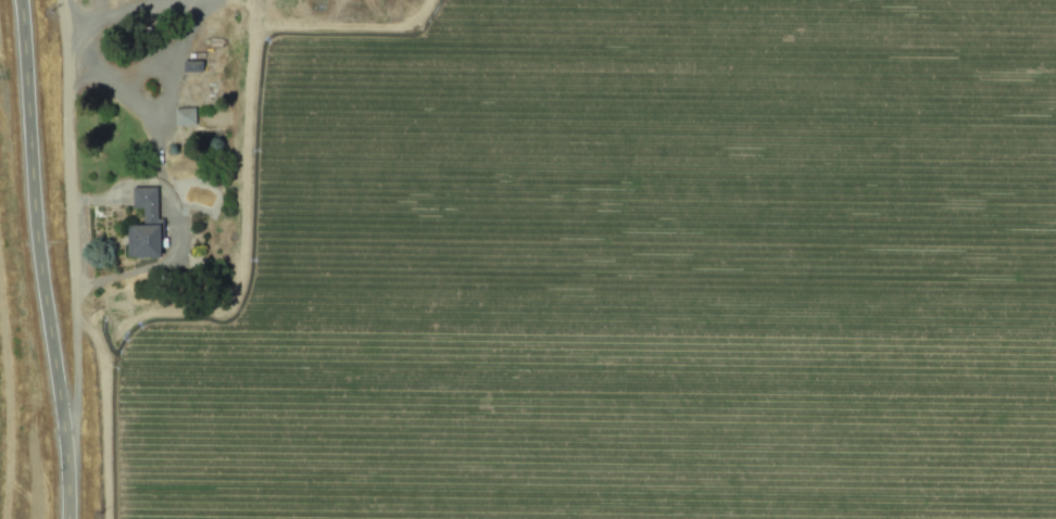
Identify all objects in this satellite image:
road: (251, 13)
road: (188, 35)
road: (91, 72)
road: (163, 102)
building: (186, 116)
road: (65, 197)
building: (149, 220)
road: (237, 238)
road: (40, 259)
crop: (605, 270)

